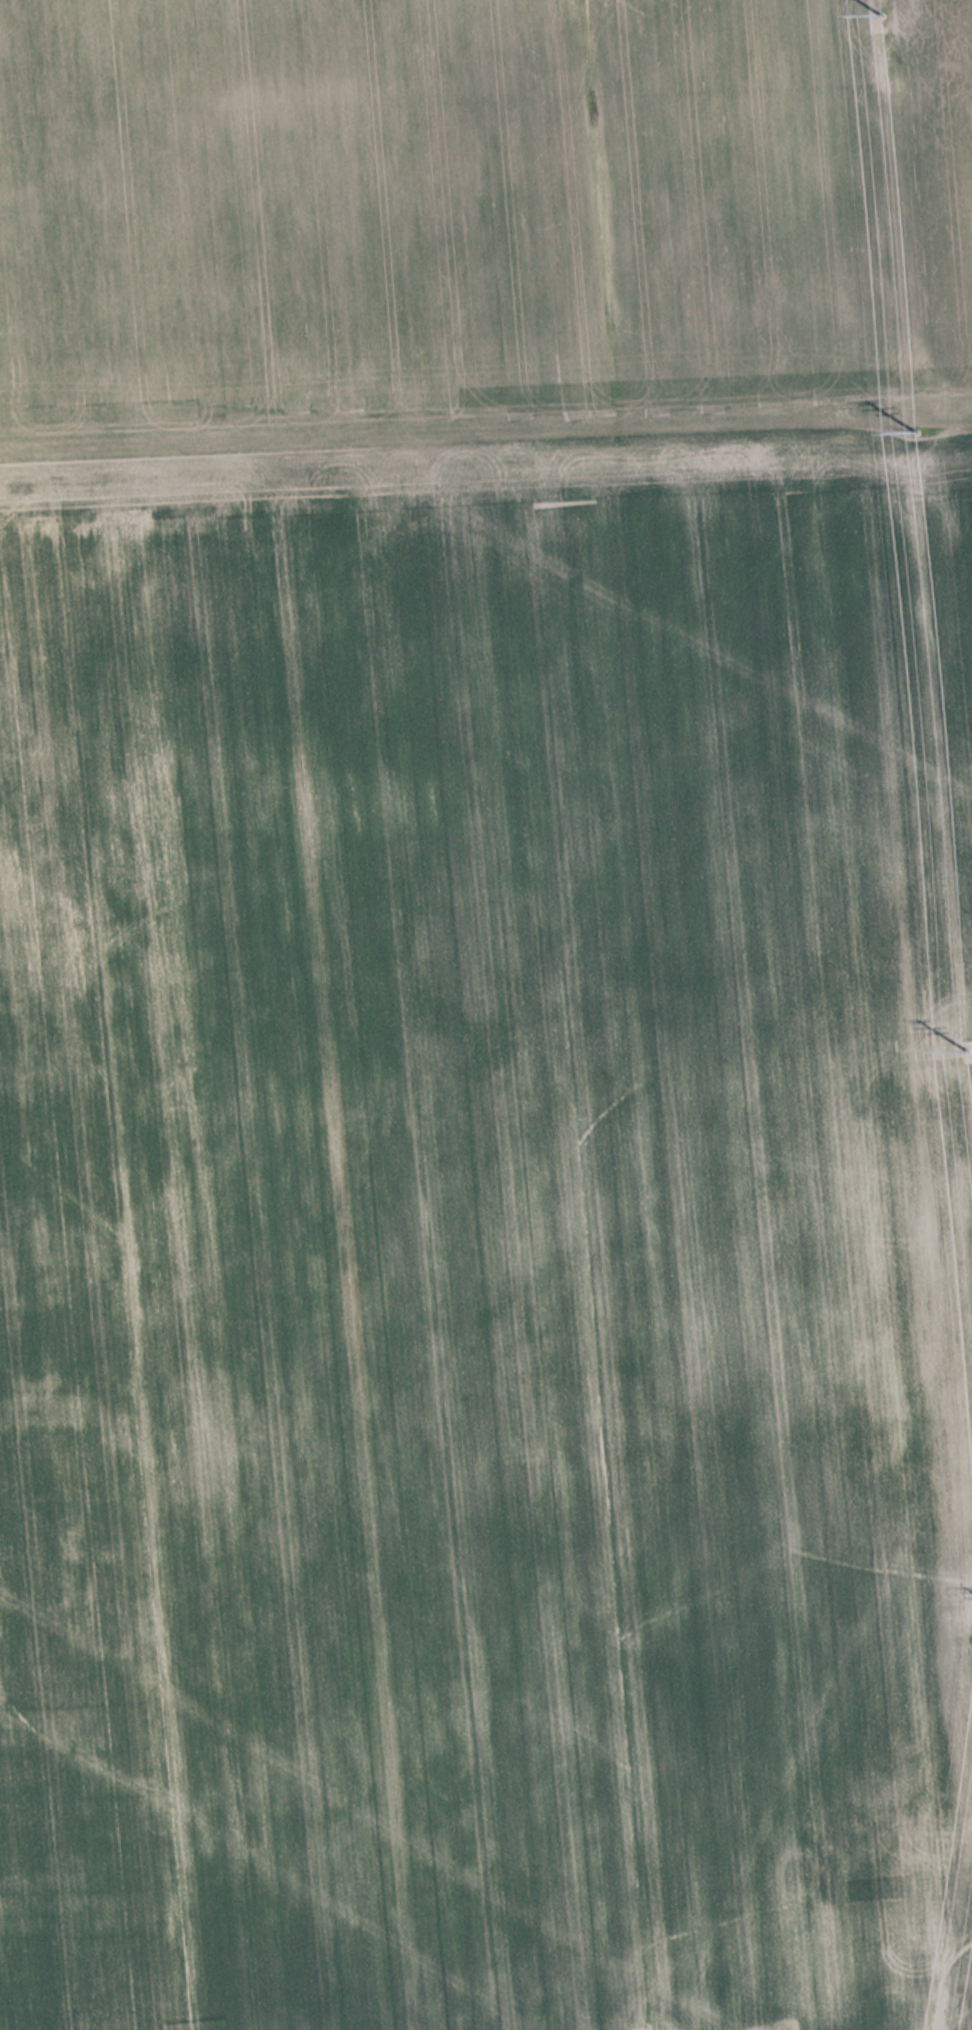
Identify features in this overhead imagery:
power tower: (879, 8)
power tower: (909, 426)
power tower: (958, 1040)

